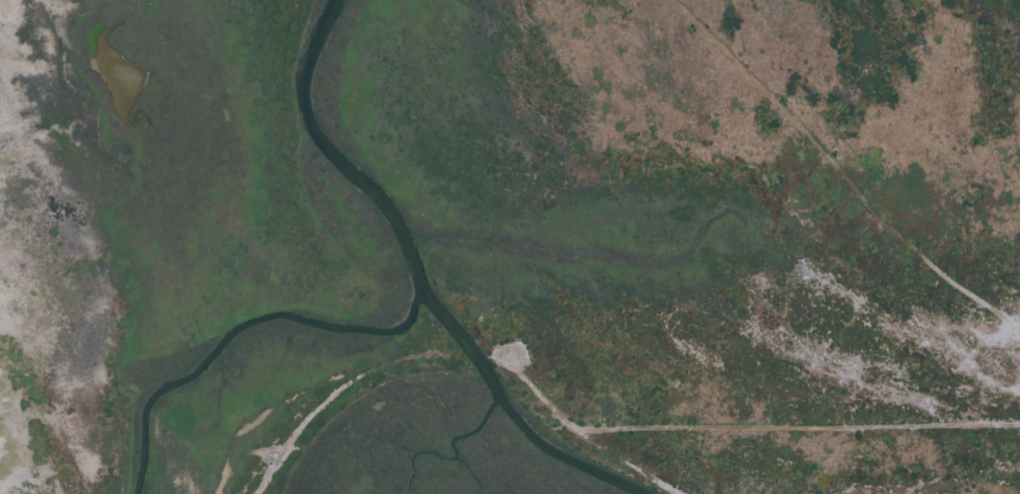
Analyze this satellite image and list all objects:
road: (839, 174)
road: (746, 431)

